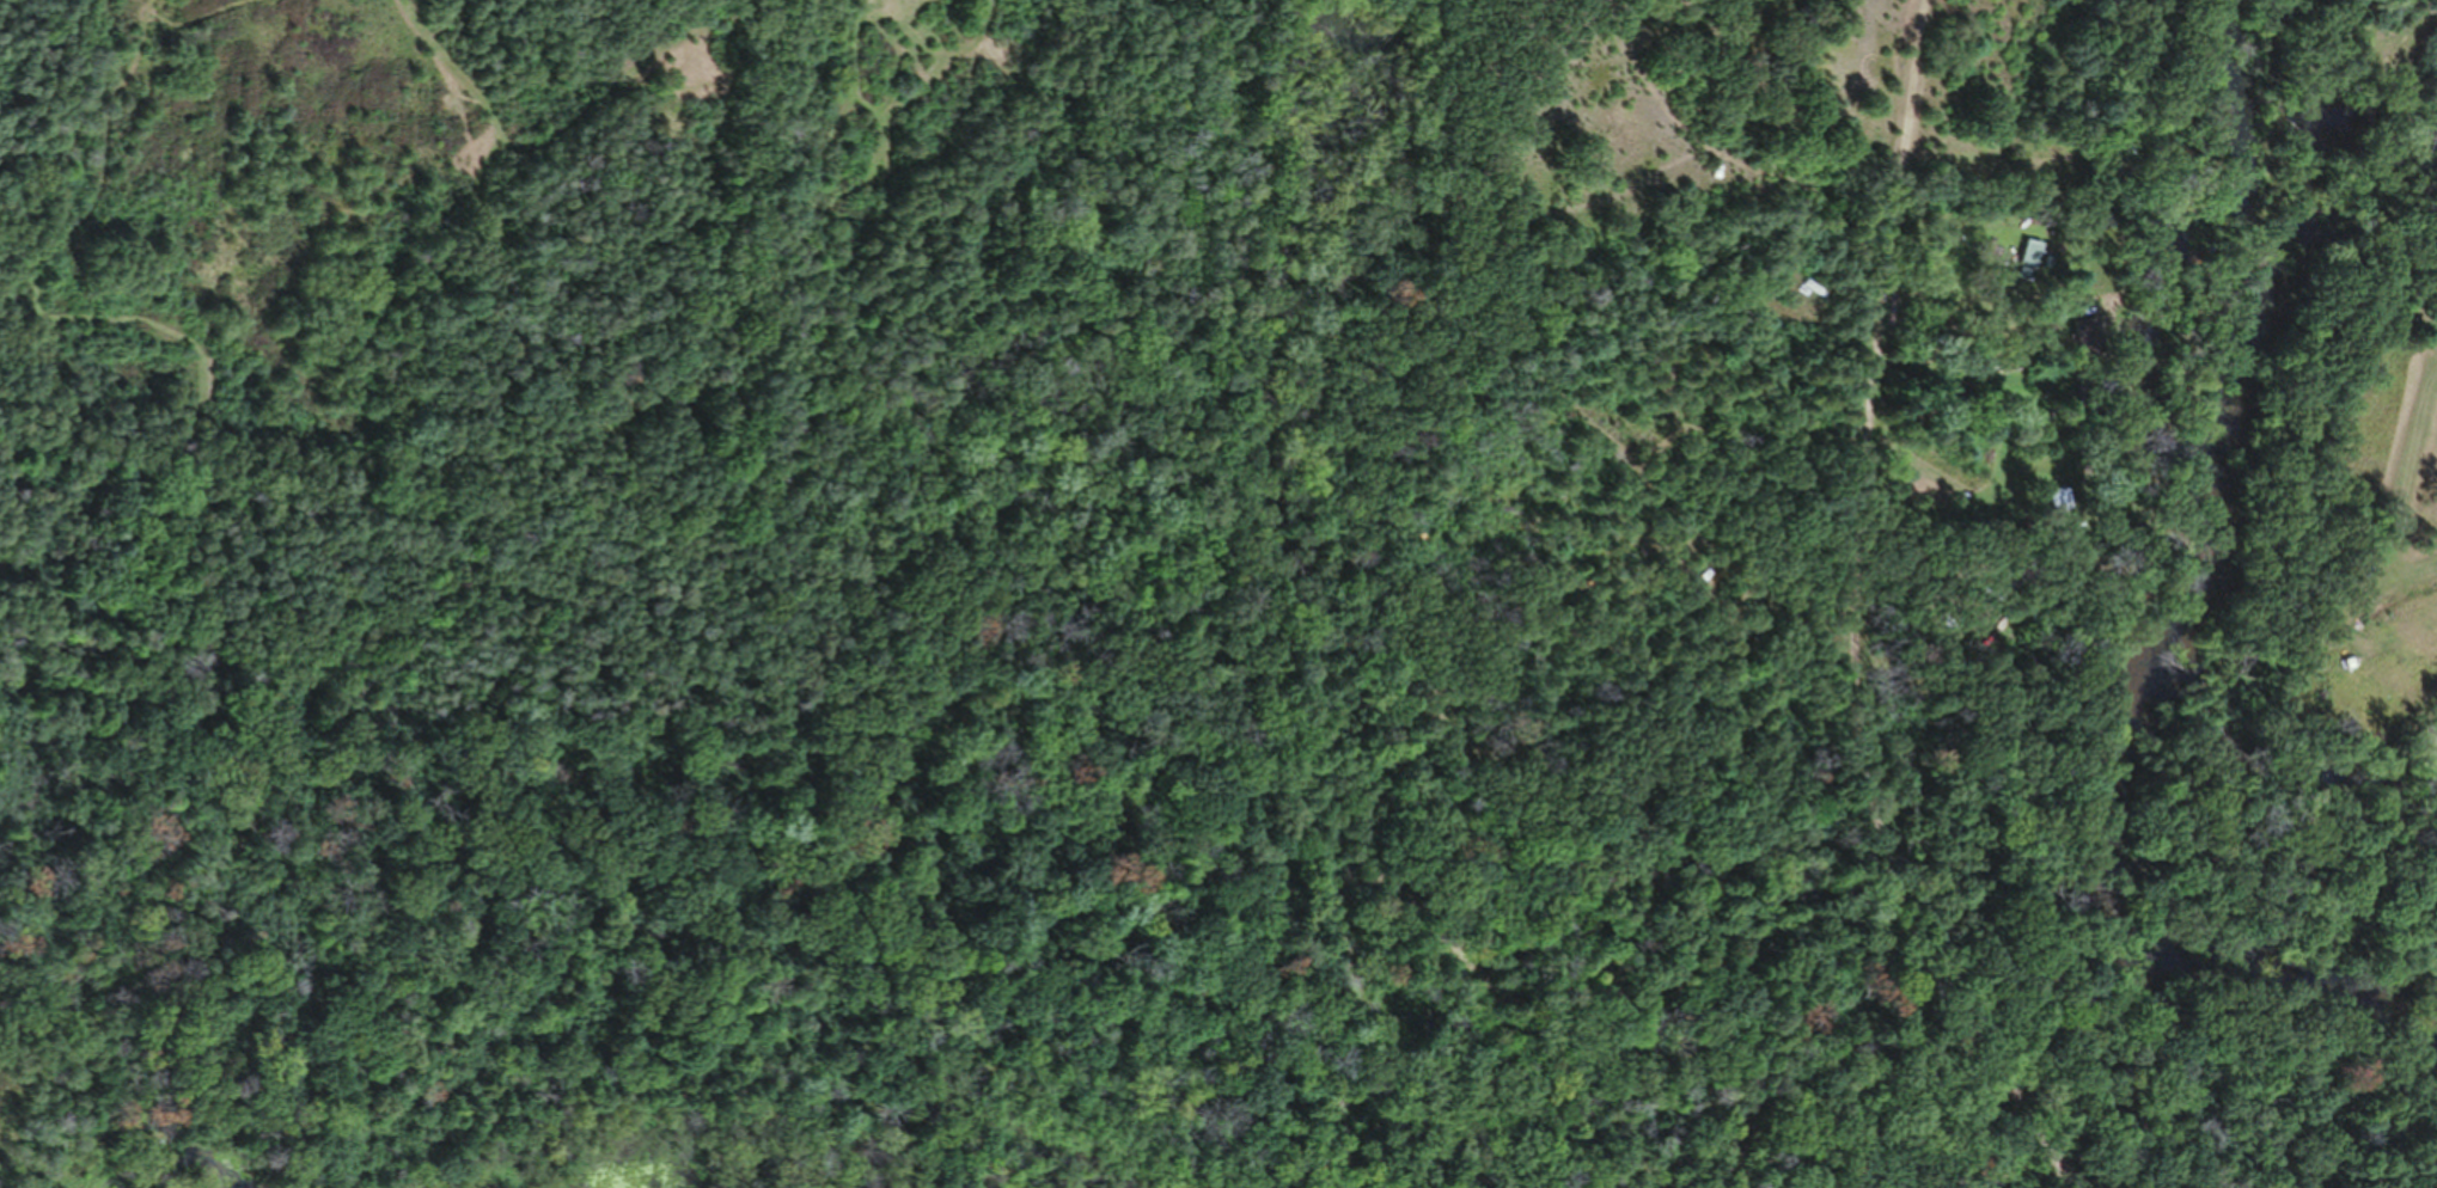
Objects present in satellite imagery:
building: (2076, 402)
building: (2051, 506)
road: (1851, 616)
road: (1488, 980)

